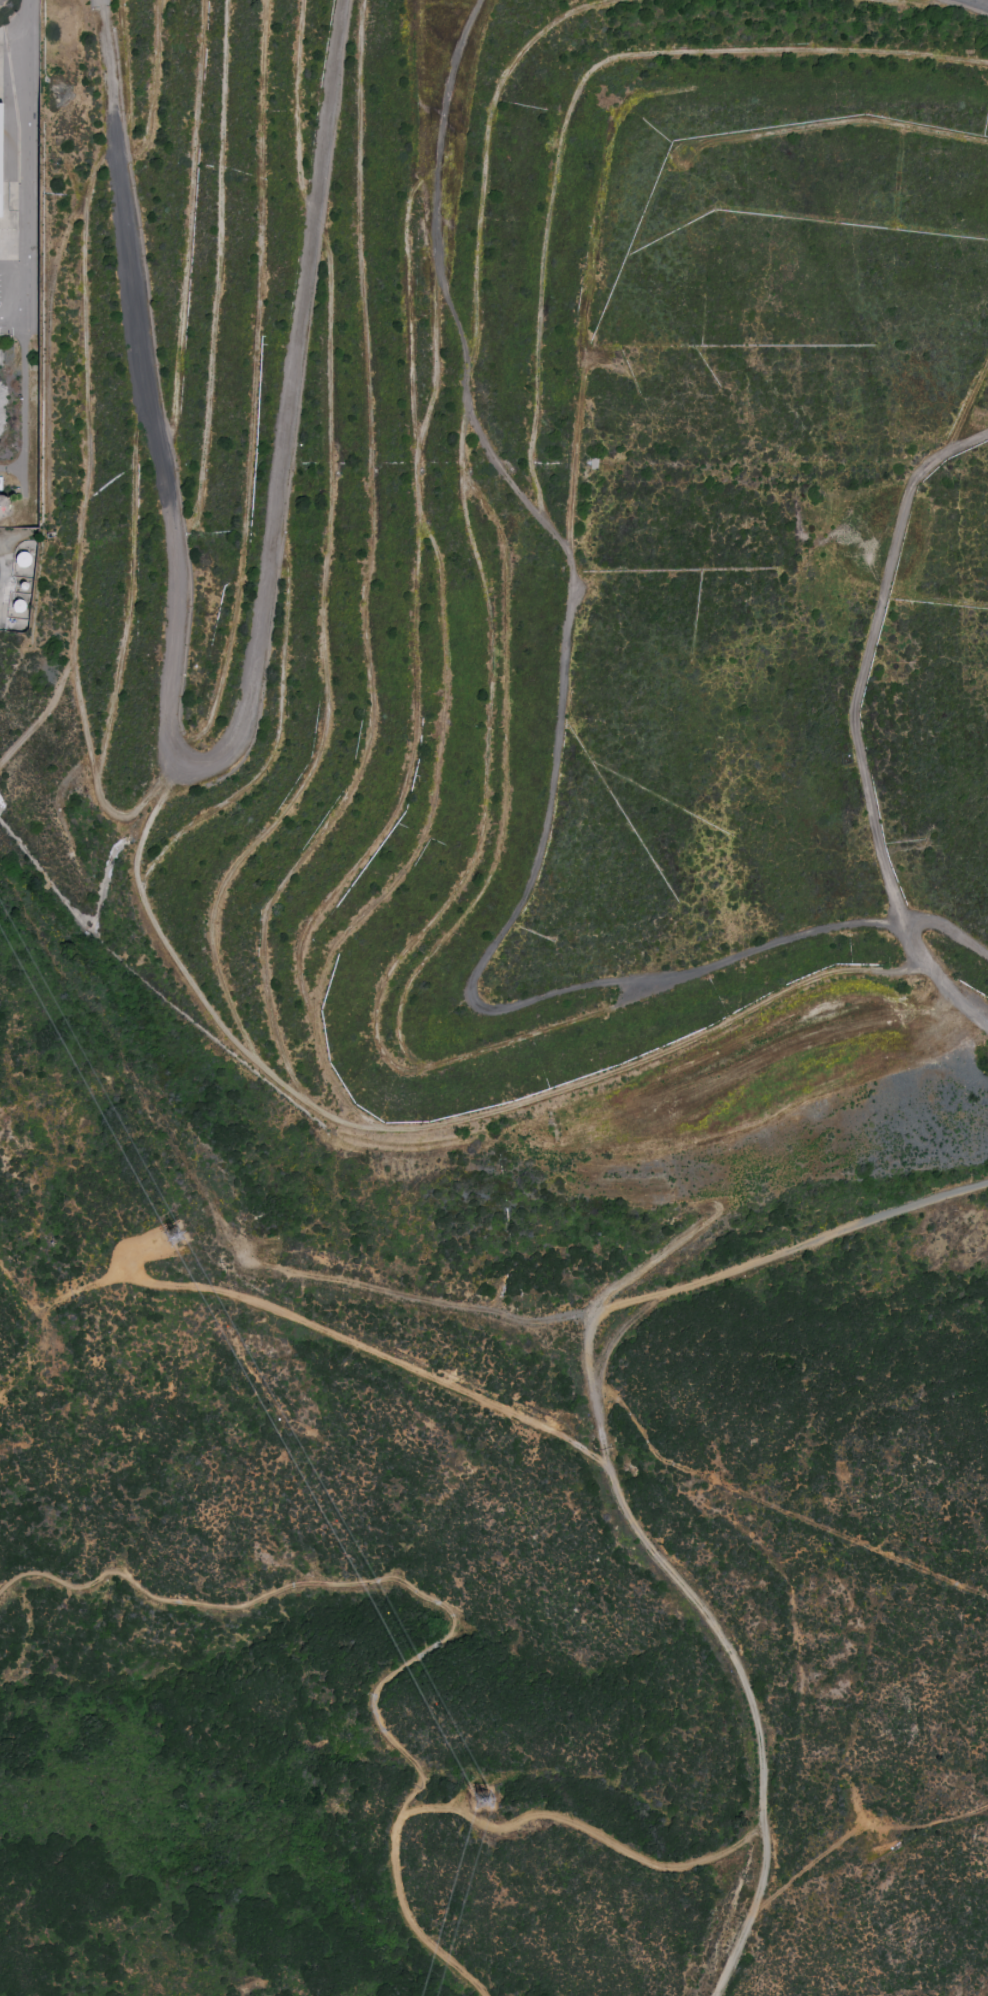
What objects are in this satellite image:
road: (98, 0)
road: (981, 2)
building: (0, 179)
road: (26, 248)
road: (13, 317)
landfill: (501, 550)
building: (22, 560)
road: (199, 767)
power tower: (182, 1242)
road: (606, 1297)
road: (616, 1488)
road: (780, 1509)
road: (447, 1608)
power tower: (486, 1805)
road: (581, 1828)
road: (857, 1833)

